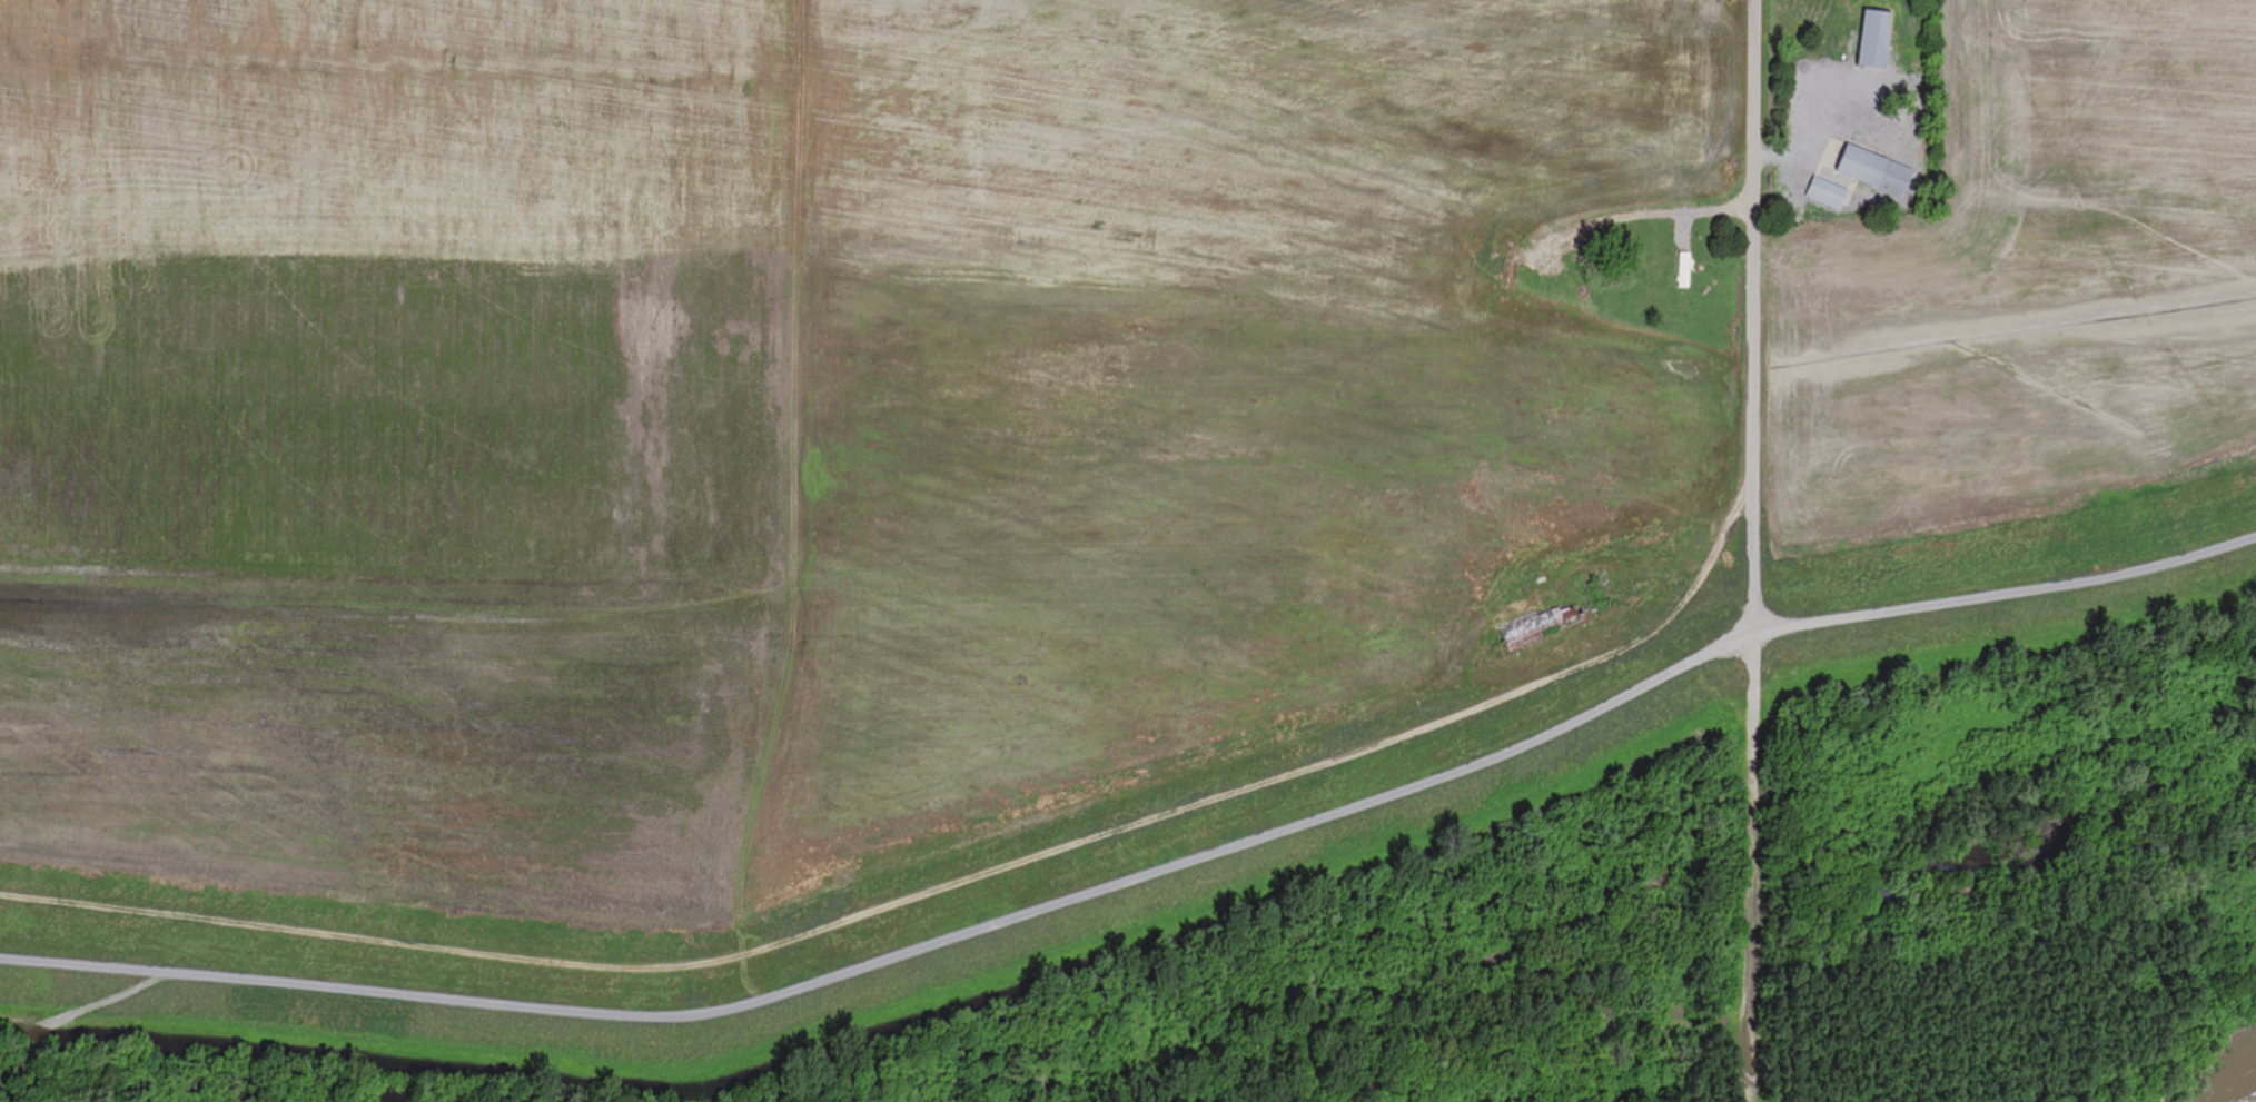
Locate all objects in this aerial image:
building: (1881, 40)
building: (1881, 172)
building: (1831, 193)
road: (1693, 214)
road: (1757, 264)
road: (1757, 644)
road: (1145, 874)
road: (934, 891)
road: (1755, 932)

